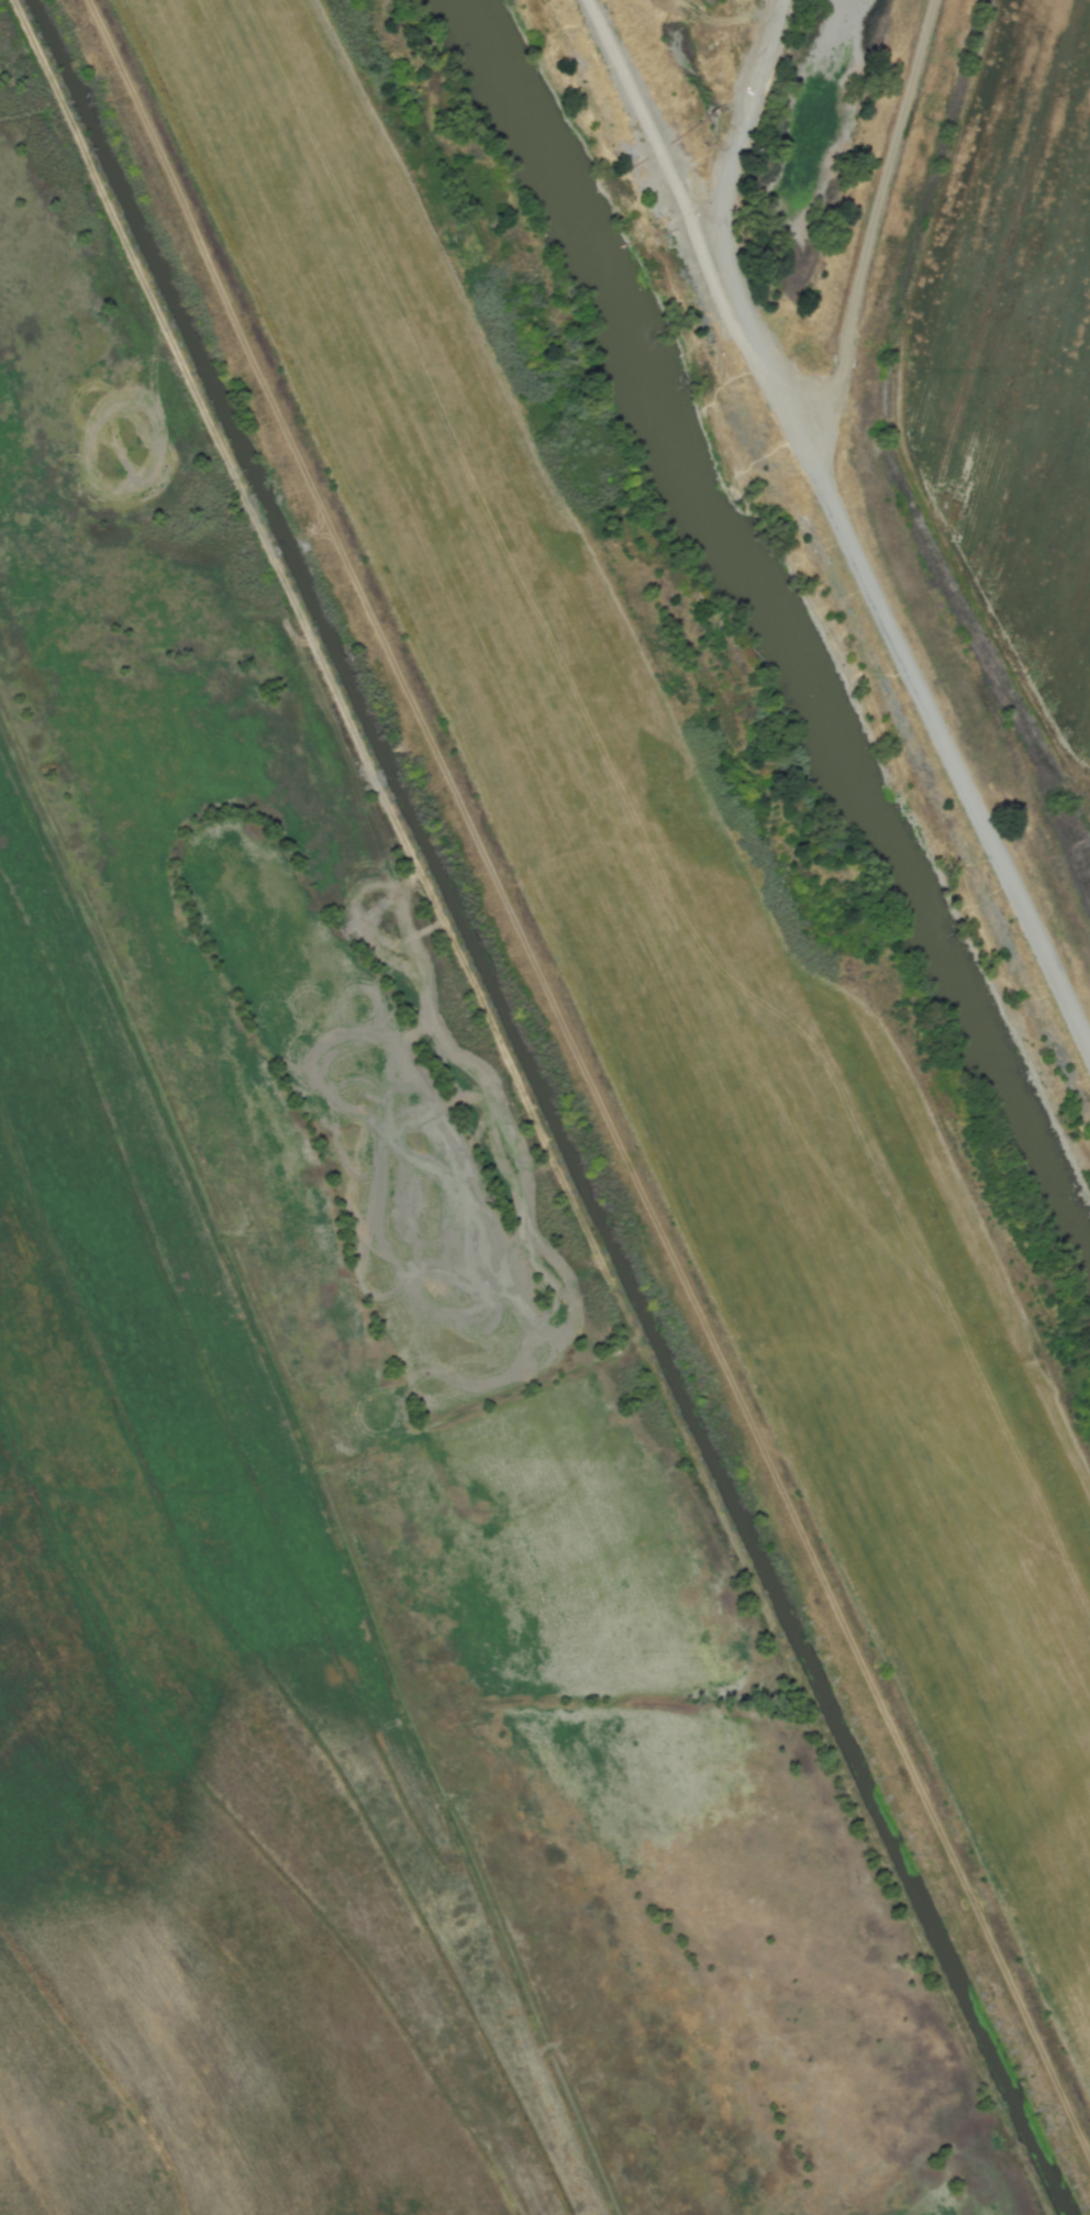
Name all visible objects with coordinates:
crop: (709, 34)
road: (721, 195)
road: (877, 204)
crop: (1009, 368)
road: (842, 523)
crop: (646, 985)
crop: (199, 1754)

